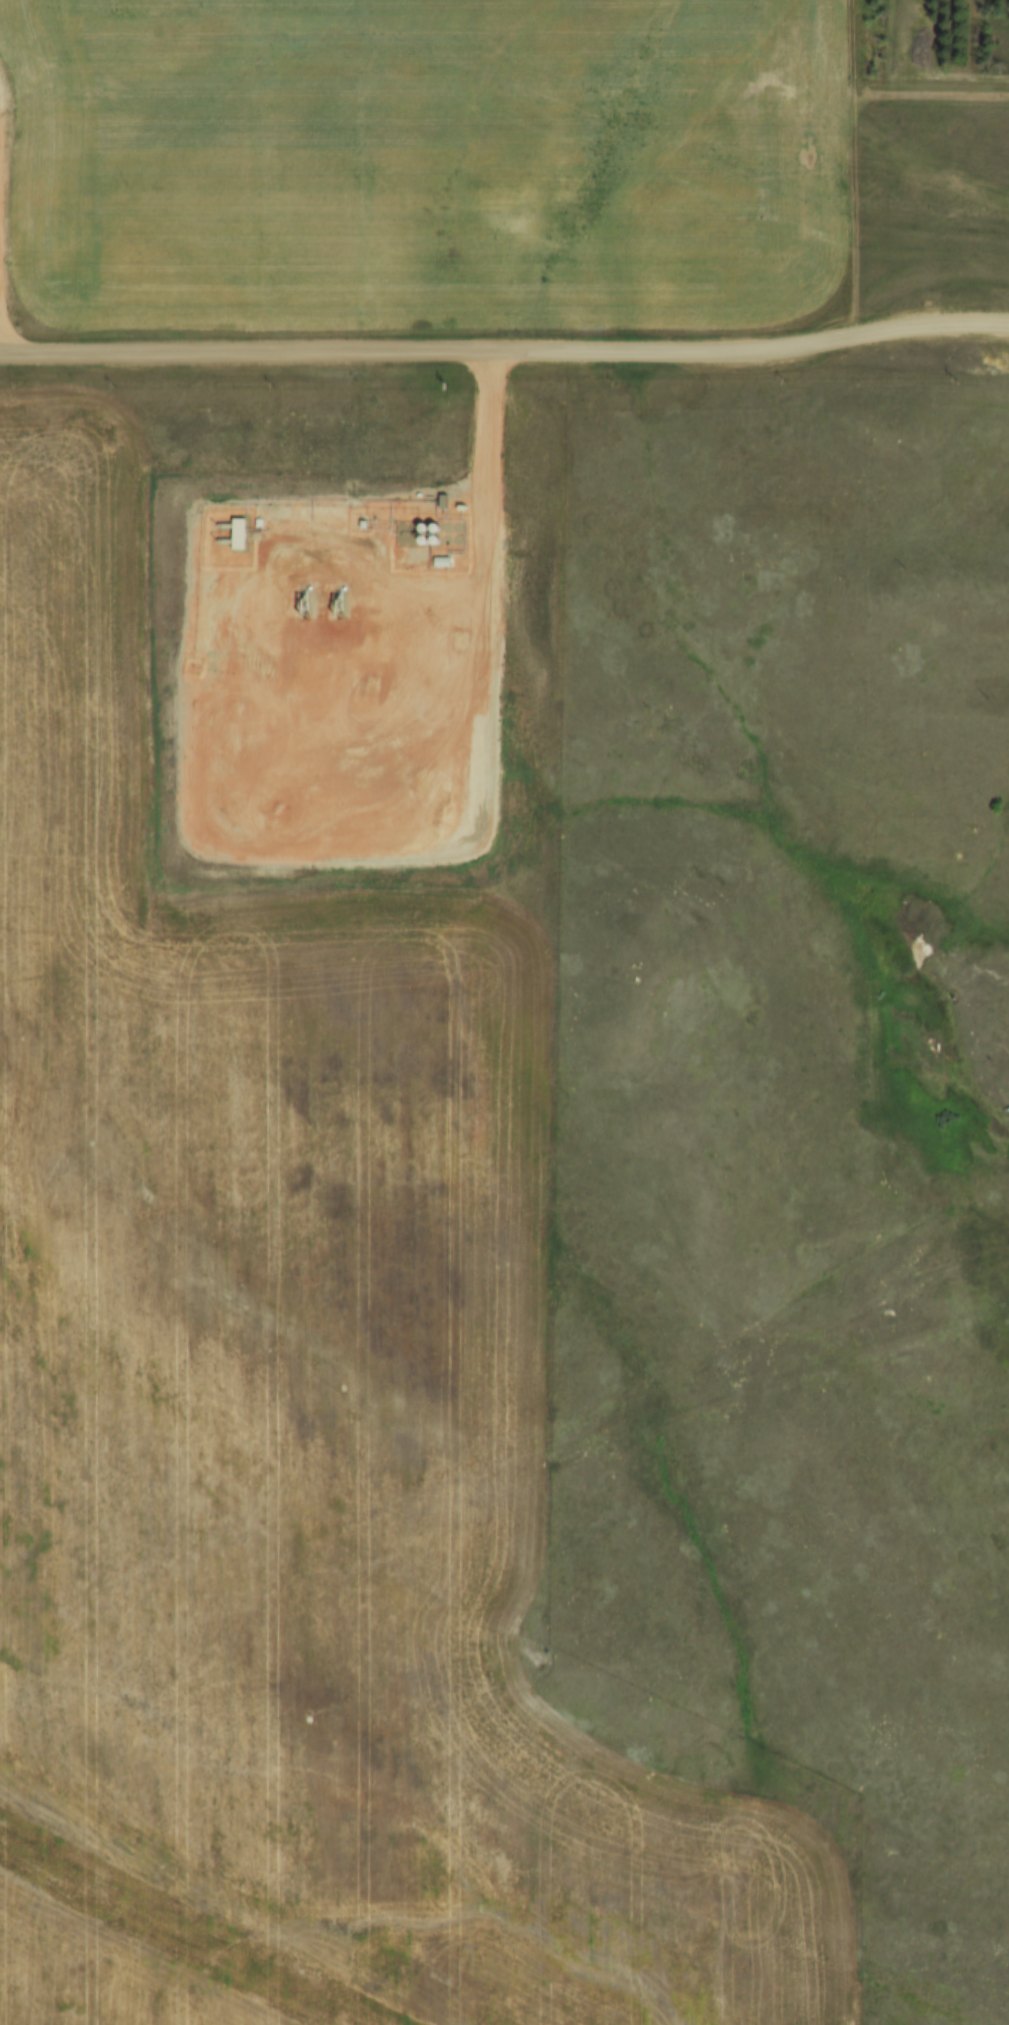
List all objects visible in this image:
road: (933, 96)
road: (859, 176)
road: (505, 351)

